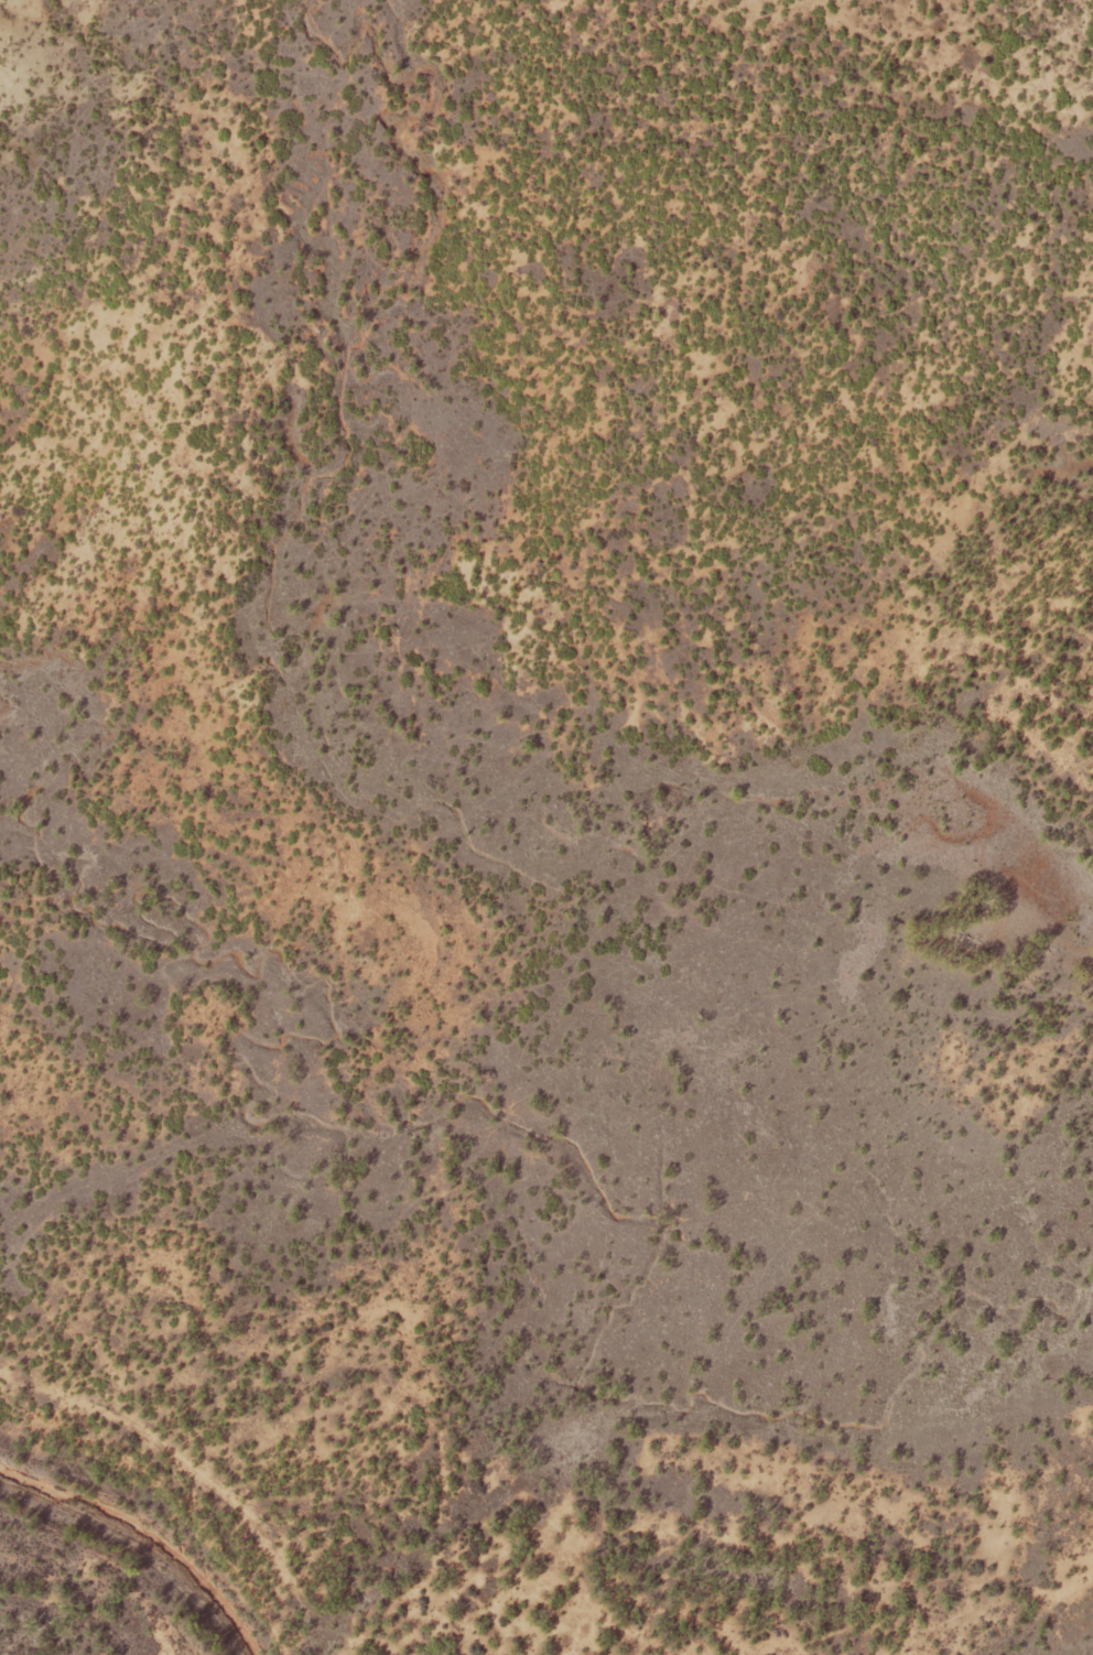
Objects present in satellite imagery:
road: (195, 1467)
river: (134, 1545)

